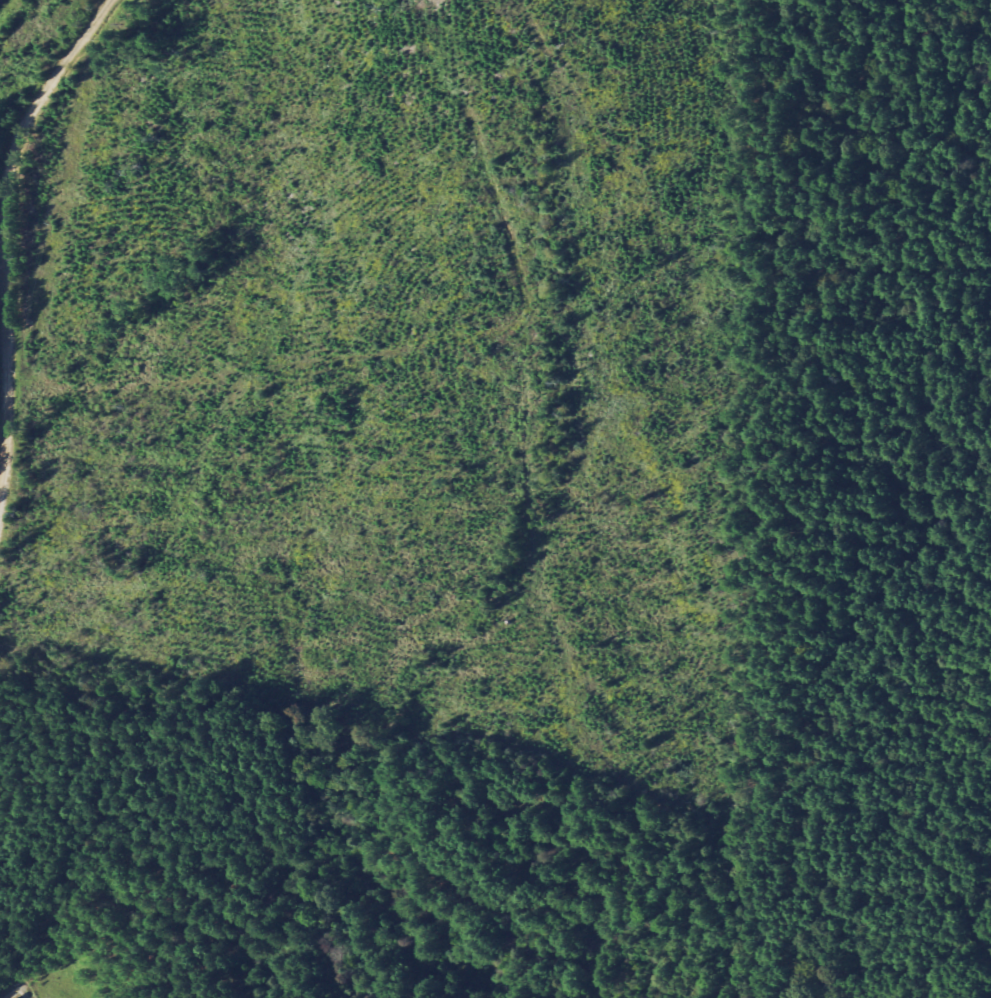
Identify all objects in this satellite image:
road: (7, 244)

